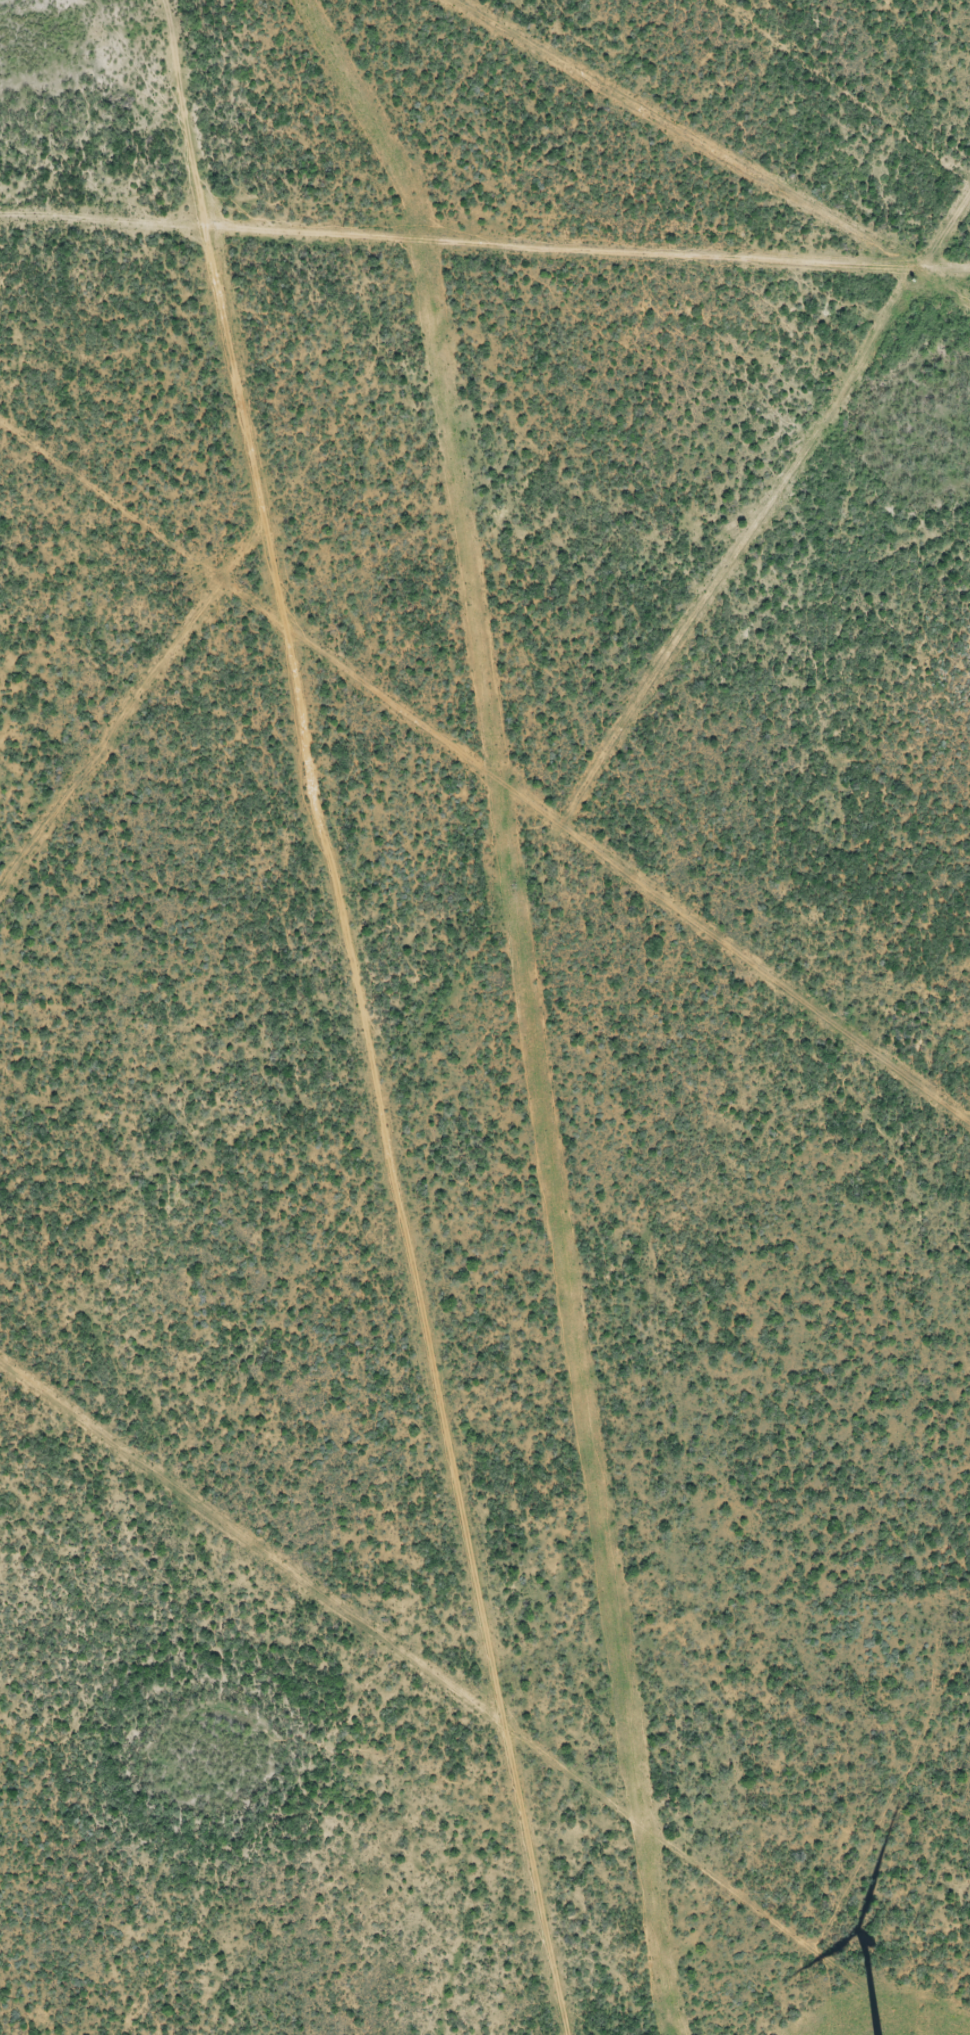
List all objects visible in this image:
road: (361, 1011)

